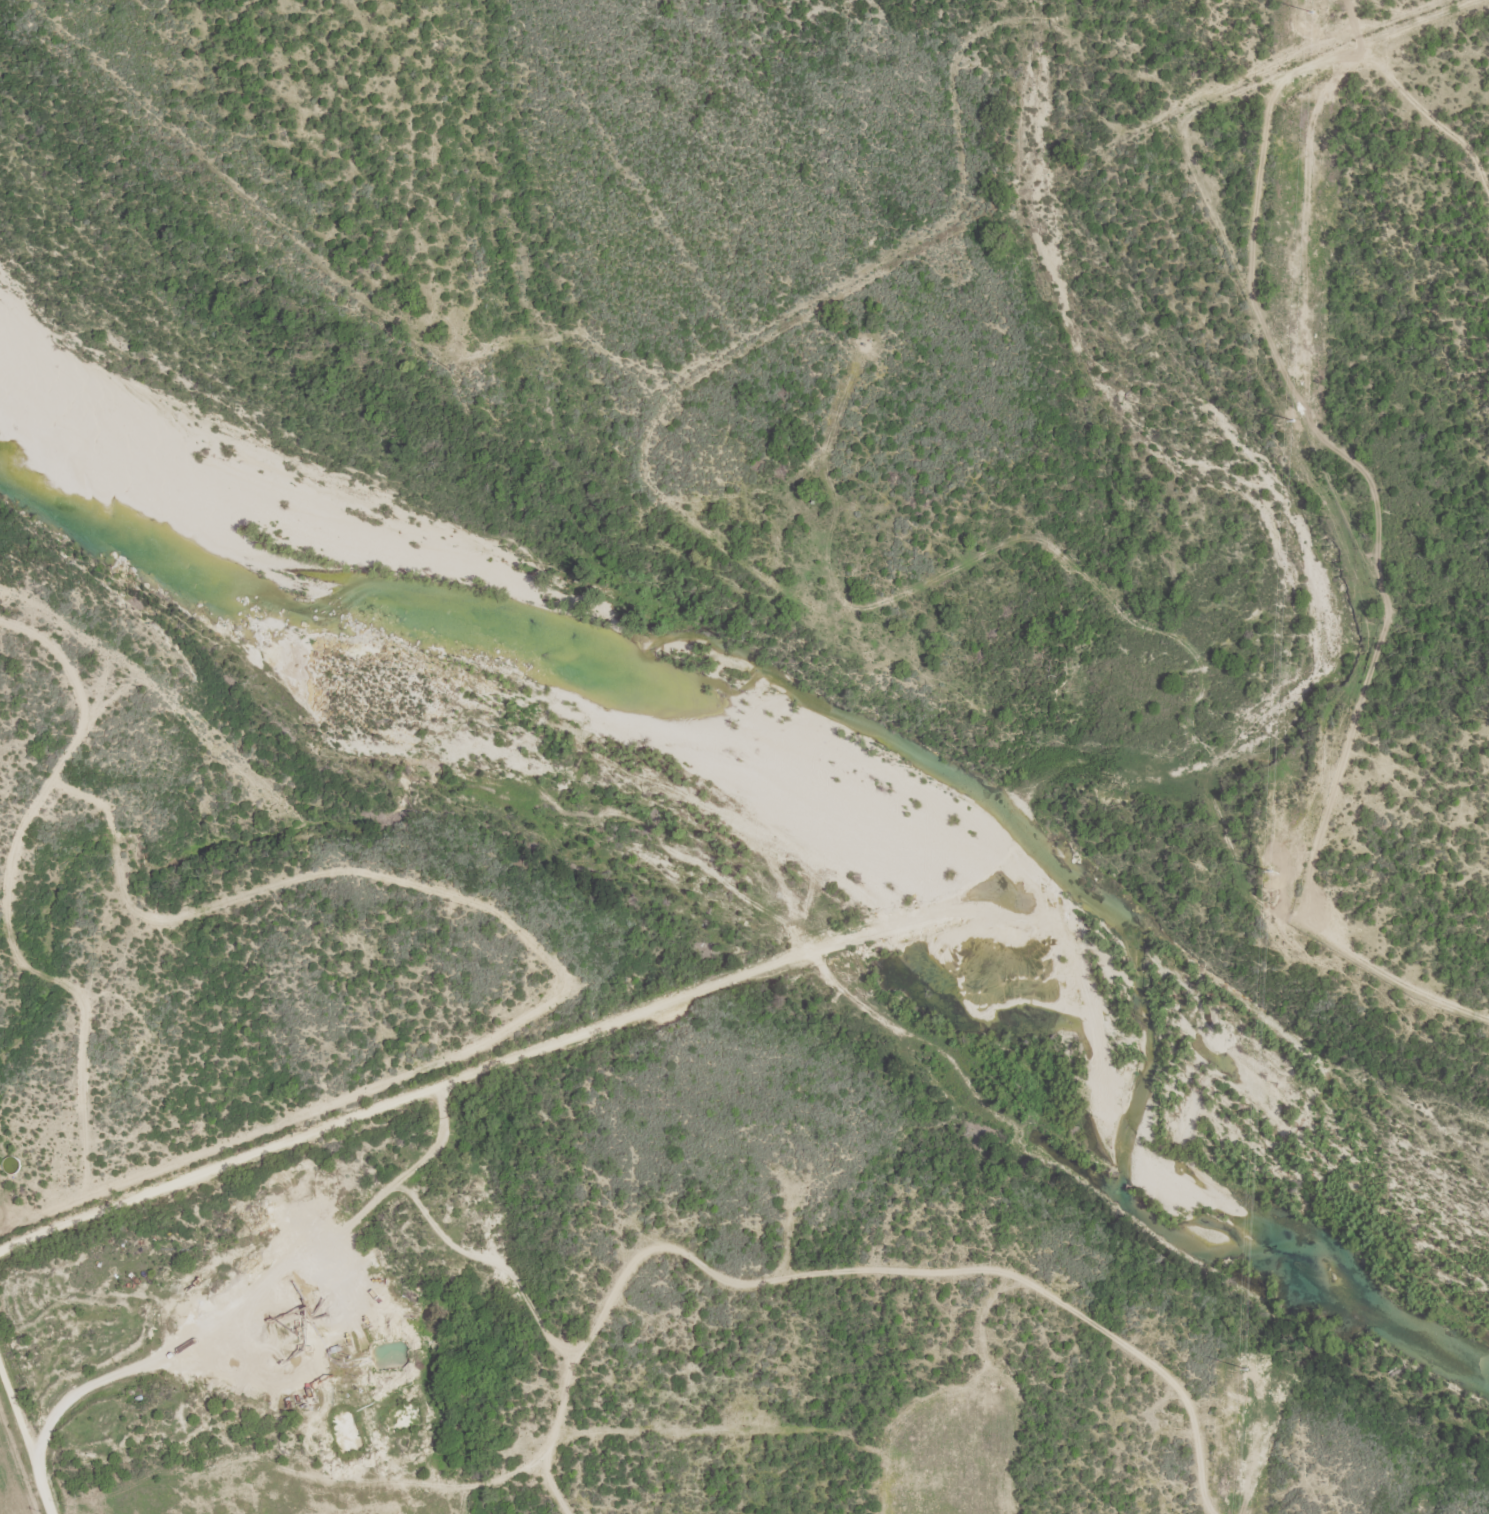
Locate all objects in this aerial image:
road: (1414, 27)
road: (1306, 236)
power tower: (1298, 370)
river: (867, 727)
power tower: (1277, 859)
road: (742, 883)
road: (412, 1096)
power tower: (1248, 1398)
road: (27, 1427)

